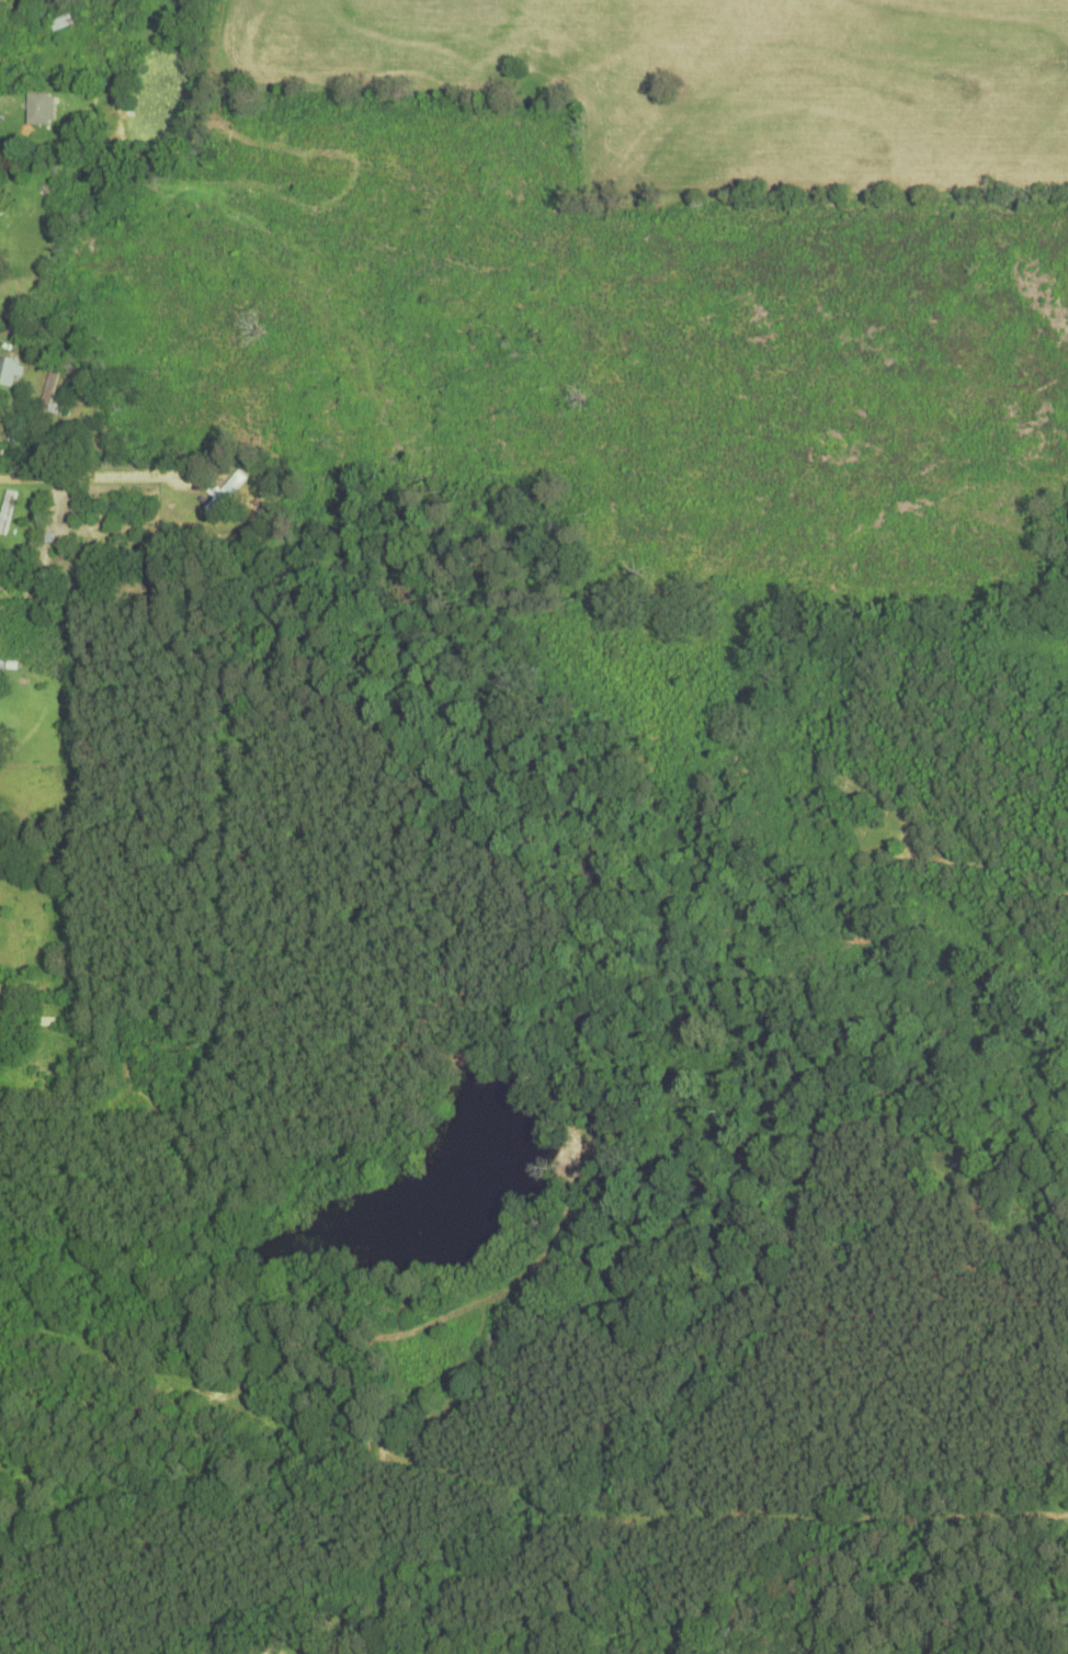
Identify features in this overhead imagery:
building: (56, 23)
building: (38, 109)
building: (10, 372)
building: (1, 446)
building: (225, 492)
building: (7, 511)
building: (0, 1489)

